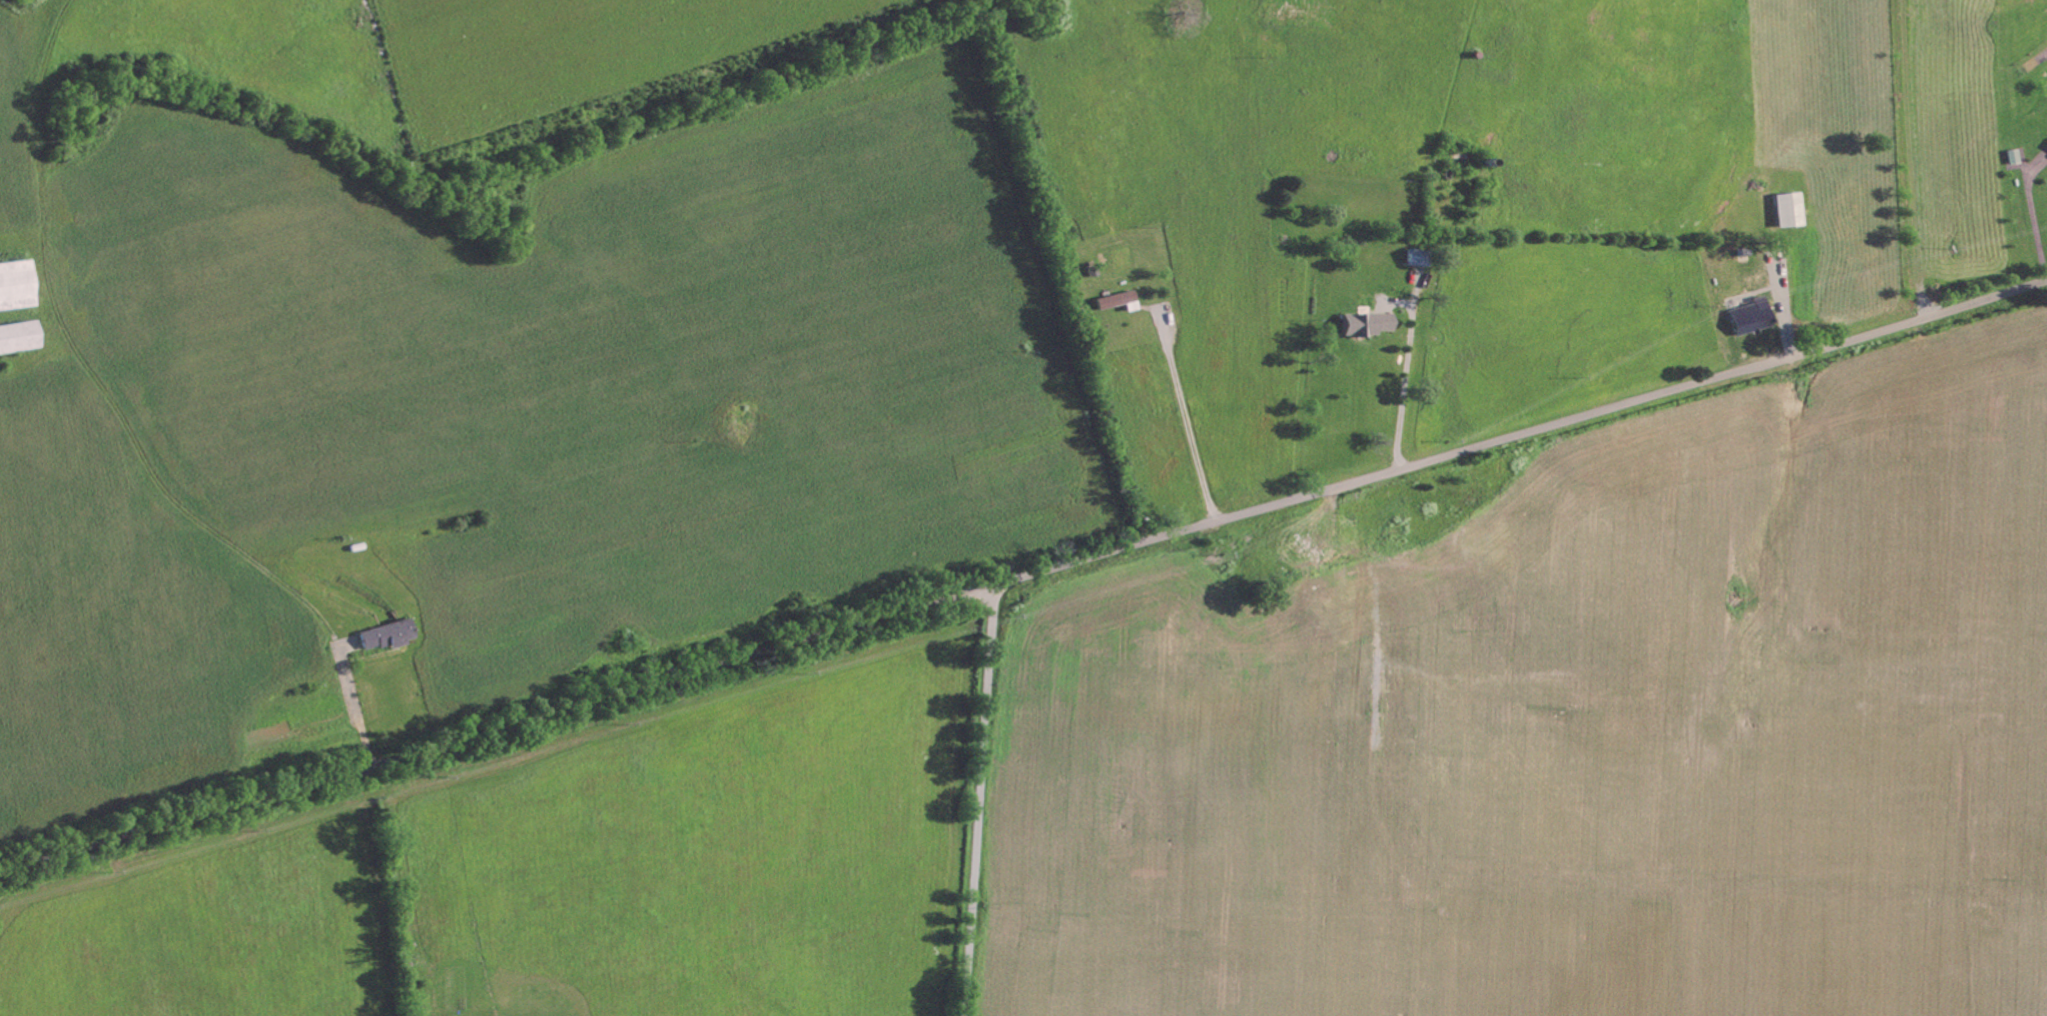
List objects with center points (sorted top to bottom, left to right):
building: (2017, 158)
building: (1792, 211)
building: (1421, 258)
building: (15, 286)
building: (1120, 302)
building: (1753, 318)
building: (1370, 325)
building: (17, 338)
road: (1405, 395)
road: (1190, 425)
road: (189, 513)
road: (1023, 574)
building: (387, 636)
road: (983, 799)

